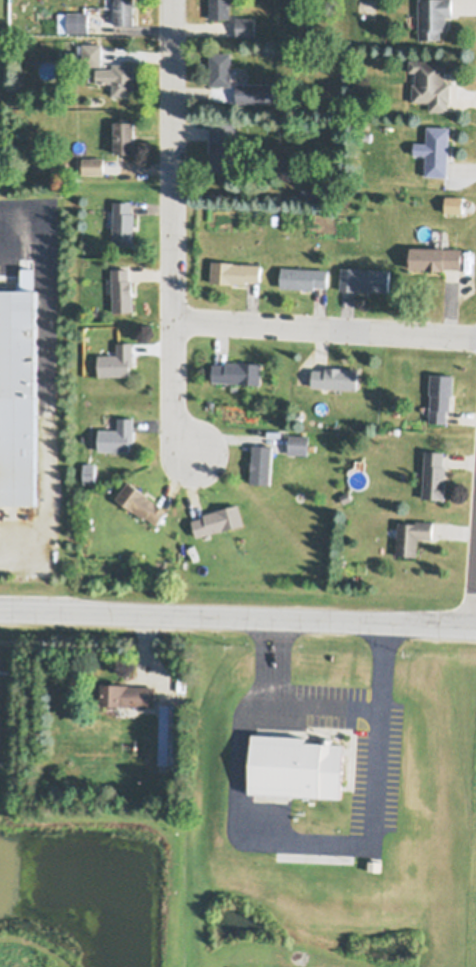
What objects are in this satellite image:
building: (220, 8)
building: (125, 10)
building: (433, 16)
building: (74, 19)
building: (246, 24)
building: (91, 51)
building: (220, 66)
building: (119, 75)
building: (431, 81)
building: (257, 91)
building: (125, 134)
building: (366, 134)
building: (221, 145)
building: (436, 148)
building: (93, 164)
building: (58, 166)
building: (307, 192)
building: (454, 201)
building: (123, 221)
road: (173, 231)
building: (435, 256)
building: (234, 271)
building: (303, 277)
building: (364, 278)
building: (122, 289)
road: (324, 329)
building: (116, 359)
building: (237, 371)
building: (334, 377)
road: (47, 382)
building: (18, 392)
building: (440, 395)
building: (298, 414)
building: (117, 434)
building: (299, 443)
building: (261, 463)
building: (89, 472)
building: (434, 474)
building: (346, 496)
building: (141, 501)
building: (218, 519)
building: (412, 534)
road: (10, 611)
road: (248, 616)
building: (128, 693)
road: (332, 704)
building: (169, 734)
building: (294, 766)
road: (302, 838)
building: (375, 864)

